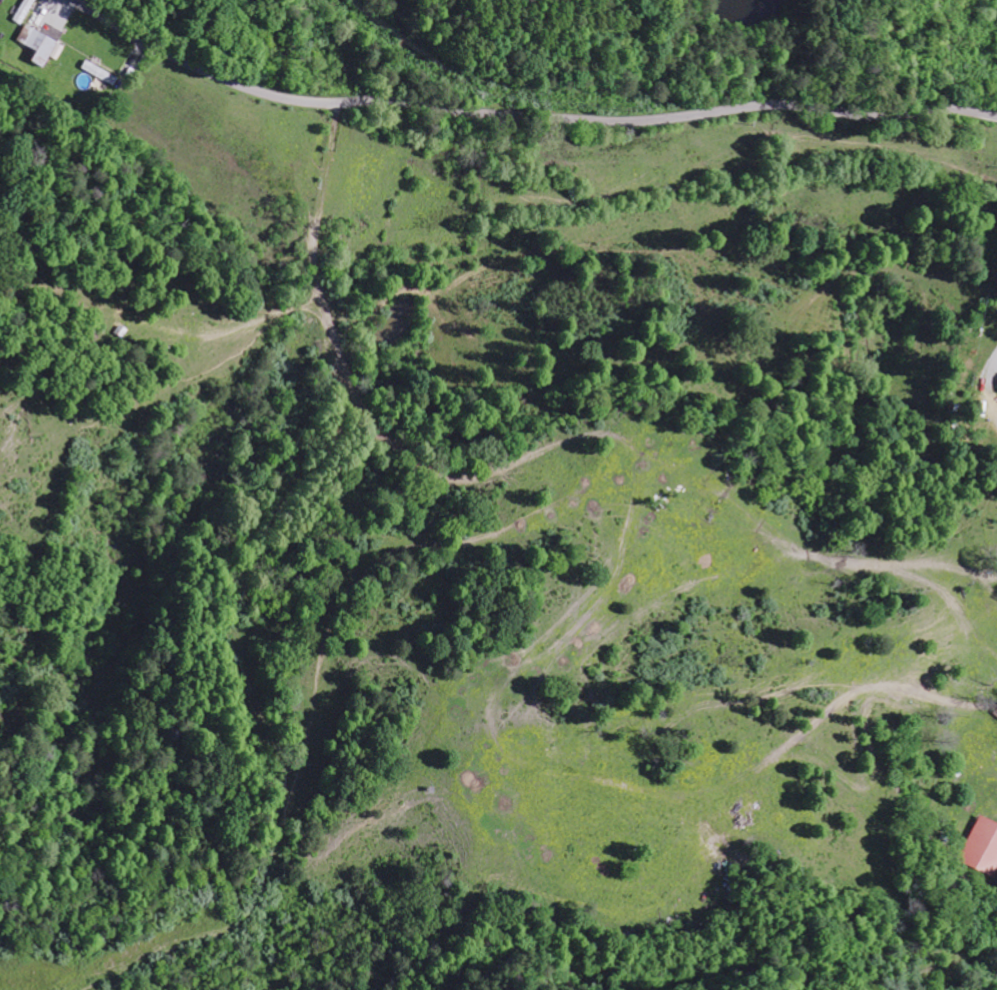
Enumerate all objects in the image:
building: (24, 11)
building: (41, 44)
road: (414, 53)
road: (919, 54)
building: (101, 72)
road: (525, 117)
building: (981, 847)

